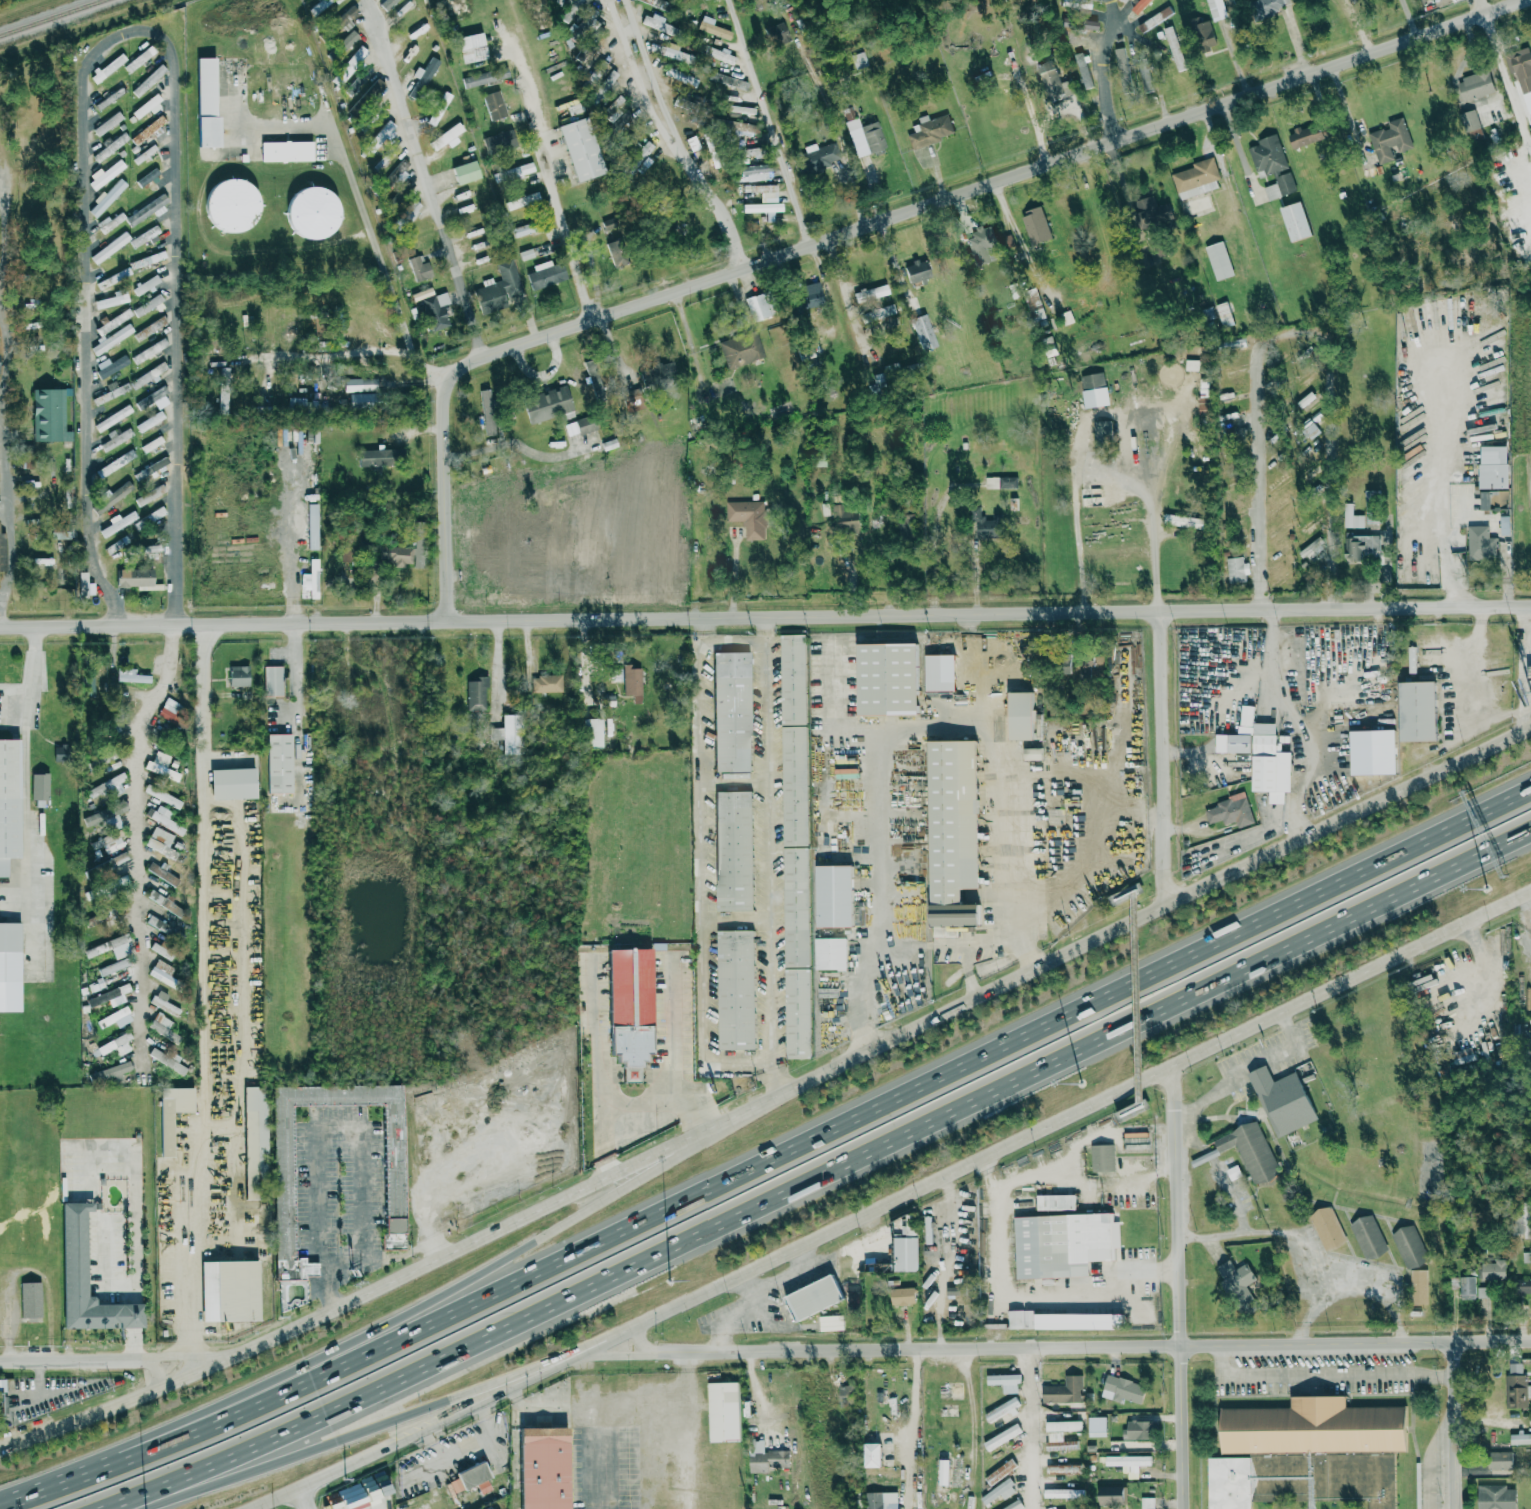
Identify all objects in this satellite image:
building: (560, 1)
building: (1122, 1)
building: (582, 2)
building: (653, 2)
building: (386, 3)
building: (1217, 3)
building: (1082, 4)
building: (319, 5)
building: (1139, 6)
building: (1266, 8)
building: (589, 15)
railway: (50, 16)
road: (733, 16)
building: (1154, 19)
building: (340, 20)
building: (1085, 25)
building: (712, 27)
building: (776, 33)
building: (1203, 33)
building: (346, 40)
building: (470, 47)
building: (1175, 48)
building: (666, 51)
building: (360, 52)
building: (719, 54)
building: (685, 57)
building: (138, 59)
building: (859, 60)
building: (107, 67)
road: (1104, 67)
building: (1520, 67)
building: (1083, 69)
building: (425, 70)
building: (484, 77)
building: (1146, 77)
building: (685, 78)
building: (1050, 79)
building: (148, 80)
building: (727, 80)
road: (1507, 80)
building: (1475, 85)
building: (375, 86)
building: (105, 96)
building: (205, 103)
building: (493, 104)
building: (147, 105)
building: (438, 108)
building: (741, 109)
road: (1346, 110)
road: (1055, 112)
building: (610, 114)
road: (170, 117)
building: (1469, 119)
building: (107, 123)
building: (740, 127)
building: (147, 129)
building: (930, 130)
building: (862, 133)
building: (1474, 134)
building: (1305, 135)
road: (670, 136)
building: (378, 137)
building: (446, 137)
road: (774, 137)
building: (1390, 139)
building: (504, 140)
building: (693, 143)
road: (1237, 144)
building: (110, 147)
building: (579, 149)
building: (286, 150)
building: (745, 152)
building: (144, 154)
building: (711, 154)
building: (641, 156)
building: (813, 158)
building: (1271, 165)
building: (521, 169)
building: (399, 170)
building: (464, 171)
building: (753, 172)
building: (110, 173)
road: (423, 178)
building: (1196, 178)
building: (145, 181)
building: (762, 191)
road: (355, 193)
building: (106, 198)
building: (522, 200)
building: (229, 204)
building: (763, 208)
building: (146, 210)
building: (309, 212)
building: (408, 212)
building: (1152, 212)
road: (86, 215)
road: (558, 215)
building: (1295, 220)
building: (110, 222)
road: (865, 223)
building: (1035, 225)
building: (523, 229)
building: (144, 236)
building: (981, 244)
building: (110, 247)
building: (615, 252)
building: (526, 254)
building: (147, 259)
building: (1219, 260)
building: (418, 268)
building: (916, 271)
building: (545, 274)
building: (113, 278)
building: (145, 285)
road: (827, 287)
building: (494, 290)
building: (870, 292)
road: (846, 294)
building: (807, 298)
building: (112, 299)
building: (1028, 300)
building: (147, 304)
building: (756, 307)
building: (436, 310)
building: (881, 311)
building: (1207, 313)
building: (1224, 313)
building: (1066, 317)
building: (113, 322)
road: (176, 331)
building: (923, 332)
road: (1295, 334)
road: (688, 339)
building: (1234, 343)
building: (740, 349)
building: (149, 351)
road: (334, 355)
building: (1191, 364)
building: (110, 365)
building: (660, 370)
building: (148, 375)
building: (1268, 382)
building: (360, 384)
building: (1094, 389)
building: (111, 393)
building: (147, 399)
building: (359, 399)
building: (1305, 399)
building: (632, 400)
road: (5, 401)
building: (546, 404)
building: (48, 415)
building: (112, 418)
building: (149, 421)
building: (579, 426)
building: (1101, 430)
building: (1311, 430)
building: (116, 438)
building: (380, 456)
building: (115, 463)
road: (1447, 463)
building: (1493, 466)
road: (1107, 475)
building: (1000, 482)
road: (85, 492)
building: (149, 493)
building: (113, 497)
building: (1491, 497)
building: (1371, 509)
building: (748, 517)
building: (1352, 517)
building: (845, 519)
building: (1184, 521)
building: (907, 522)
building: (117, 523)
building: (983, 525)
building: (1504, 525)
building: (312, 526)
road: (887, 530)
building: (60, 532)
building: (1481, 542)
building: (117, 545)
building: (1360, 547)
building: (1311, 548)
building: (147, 550)
building: (405, 551)
building: (2, 552)
building: (1237, 569)
building: (133, 577)
building: (311, 579)
building: (82, 588)
road: (1396, 603)
road: (630, 613)
road: (1524, 659)
road: (302, 666)
road: (973, 667)
building: (939, 672)
building: (238, 675)
building: (130, 676)
road: (1481, 677)
building: (886, 678)
building: (793, 679)
building: (272, 680)
building: (632, 682)
road: (1248, 682)
building: (87, 683)
building: (546, 683)
road: (1272, 684)
building: (475, 693)
building: (1417, 710)
building: (731, 711)
building: (169, 712)
building: (1019, 715)
building: (495, 733)
building: (591, 733)
building: (1032, 753)
road: (1166, 754)
building: (1259, 754)
building: (278, 763)
building: (161, 766)
road: (27, 771)
road: (1299, 774)
road: (739, 778)
building: (115, 783)
building: (231, 783)
building: (794, 785)
building: (39, 786)
road: (887, 796)
building: (165, 798)
building: (8, 802)
building: (1230, 810)
building: (106, 817)
building: (163, 819)
building: (952, 831)
building: (160, 842)
road: (1014, 846)
road: (1100, 847)
building: (733, 850)
road: (776, 856)
road: (144, 864)
road: (706, 867)
road: (1142, 890)
building: (834, 895)
building: (796, 907)
road: (743, 916)
road: (1126, 924)
road: (919, 943)
road: (968, 945)
building: (830, 953)
building: (9, 967)
building: (161, 970)
building: (735, 989)
road: (1137, 995)
road: (205, 999)
road: (865, 1000)
building: (628, 1004)
building: (797, 1013)
building: (115, 1018)
building: (163, 1027)
road: (598, 1040)
building: (115, 1045)
building: (1462, 1055)
road: (674, 1056)
building: (166, 1059)
building: (112, 1072)
road: (1146, 1095)
building: (1282, 1101)
road: (636, 1108)
road: (1062, 1124)
road: (354, 1125)
building: (166, 1134)
road: (822, 1136)
building: (253, 1143)
building: (1250, 1151)
road: (608, 1153)
building: (1102, 1157)
road: (830, 1168)
road: (991, 1171)
building: (392, 1178)
road: (1086, 1184)
road: (1232, 1198)
building: (1055, 1202)
building: (1523, 1219)
building: (1326, 1228)
building: (1368, 1236)
building: (873, 1237)
road: (995, 1239)
road: (1295, 1240)
building: (1063, 1244)
building: (905, 1246)
building: (1409, 1246)
building: (72, 1254)
building: (1526, 1257)
road: (346, 1262)
road: (942, 1263)
building: (1493, 1270)
building: (1238, 1286)
building: (1418, 1287)
building: (1522, 1287)
road: (1183, 1288)
building: (1467, 1288)
road: (749, 1289)
road: (1378, 1289)
building: (228, 1291)
building: (1483, 1292)
road: (761, 1295)
road: (1103, 1295)
building: (902, 1296)
road: (367, 1297)
building: (812, 1298)
building: (30, 1300)
road: (423, 1310)
road: (996, 1320)
building: (1063, 1321)
building: (831, 1323)
road: (1082, 1344)
road: (92, 1360)
road: (1328, 1374)
building: (1004, 1381)
building: (1122, 1389)
building: (1064, 1390)
building: (1515, 1390)
building: (844, 1392)
road: (516, 1394)
road: (914, 1396)
building: (3, 1406)
road: (559, 1407)
building: (1001, 1408)
road: (483, 1410)
building: (723, 1410)
road: (615, 1411)
road: (1460, 1423)
building: (1063, 1425)
building: (1096, 1426)
road: (1029, 1427)
building: (1136, 1429)
road: (423, 1431)
road: (363, 1434)
road: (430, 1435)
building: (1002, 1436)
building: (1520, 1438)
building: (1059, 1441)
road: (464, 1448)
building: (1307, 1452)
building: (871, 1454)
building: (765, 1457)
building: (1499, 1460)
building: (1530, 1460)
building: (1128, 1463)
building: (542, 1467)
building: (1005, 1467)
building: (1063, 1469)
building: (943, 1471)
building: (474, 1477)
building: (372, 1483)
road: (53, 1487)
building: (999, 1491)
building: (1062, 1493)
building: (1112, 1494)
building: (1495, 1496)
road: (304, 1498)
building: (345, 1500)
building: (881, 1500)
building: (1147, 1502)
building: (1013, 1505)
road: (126, 1507)

